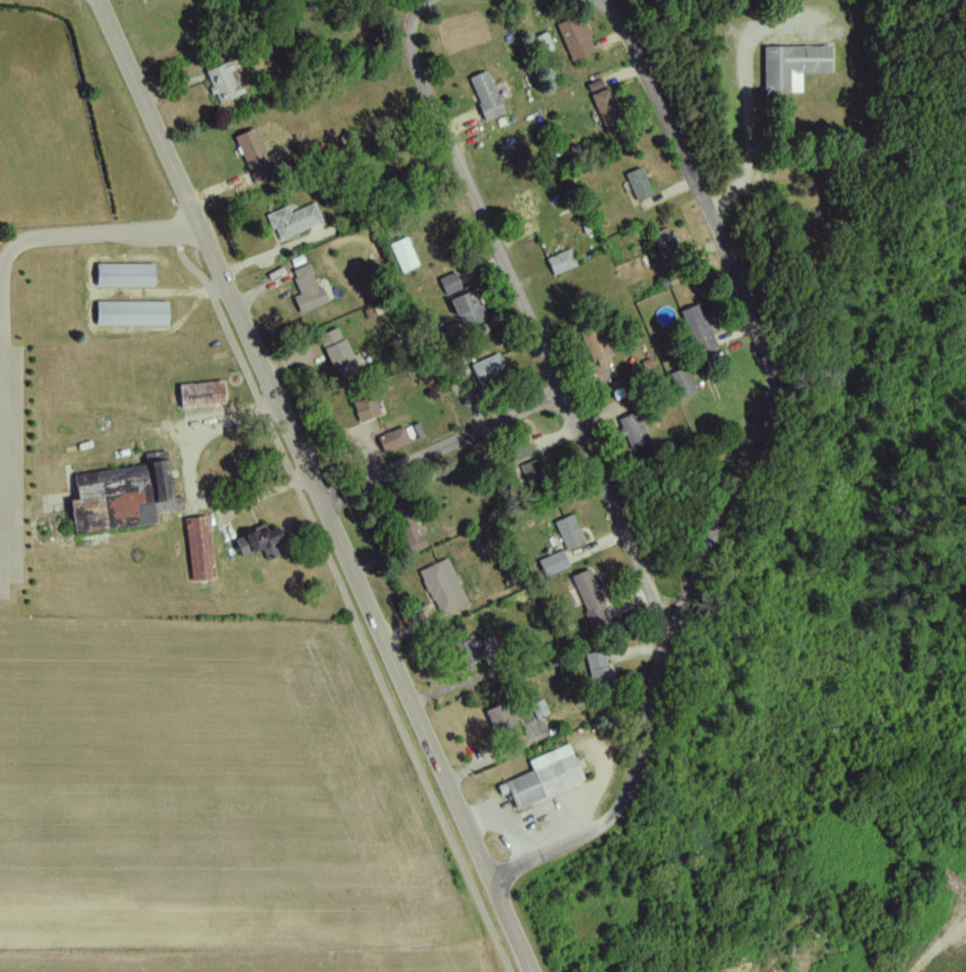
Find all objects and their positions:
road: (595, 1)
building: (574, 38)
building: (791, 65)
building: (222, 82)
building: (485, 95)
building: (602, 102)
park: (45, 128)
building: (252, 154)
building: (637, 183)
park: (61, 209)
building: (292, 220)
road: (69, 240)
building: (662, 240)
building: (402, 254)
building: (560, 261)
building: (124, 275)
building: (448, 283)
building: (306, 289)
building: (465, 309)
building: (130, 313)
road: (526, 316)
building: (697, 329)
road: (1, 331)
building: (593, 345)
building: (336, 351)
building: (487, 368)
building: (680, 383)
building: (200, 394)
building: (363, 408)
building: (631, 431)
building: (392, 439)
road: (443, 449)
building: (519, 449)
road: (739, 468)
building: (531, 469)
parking lot: (9, 477)
road: (316, 485)
building: (118, 495)
building: (567, 531)
building: (409, 533)
building: (258, 542)
building: (198, 548)
building: (552, 563)
road: (674, 580)
building: (442, 586)
building: (588, 595)
road: (346, 602)
building: (465, 653)
building: (597, 669)
building: (538, 709)
building: (500, 719)
road: (496, 757)
building: (542, 777)
airport: (251, 960)

